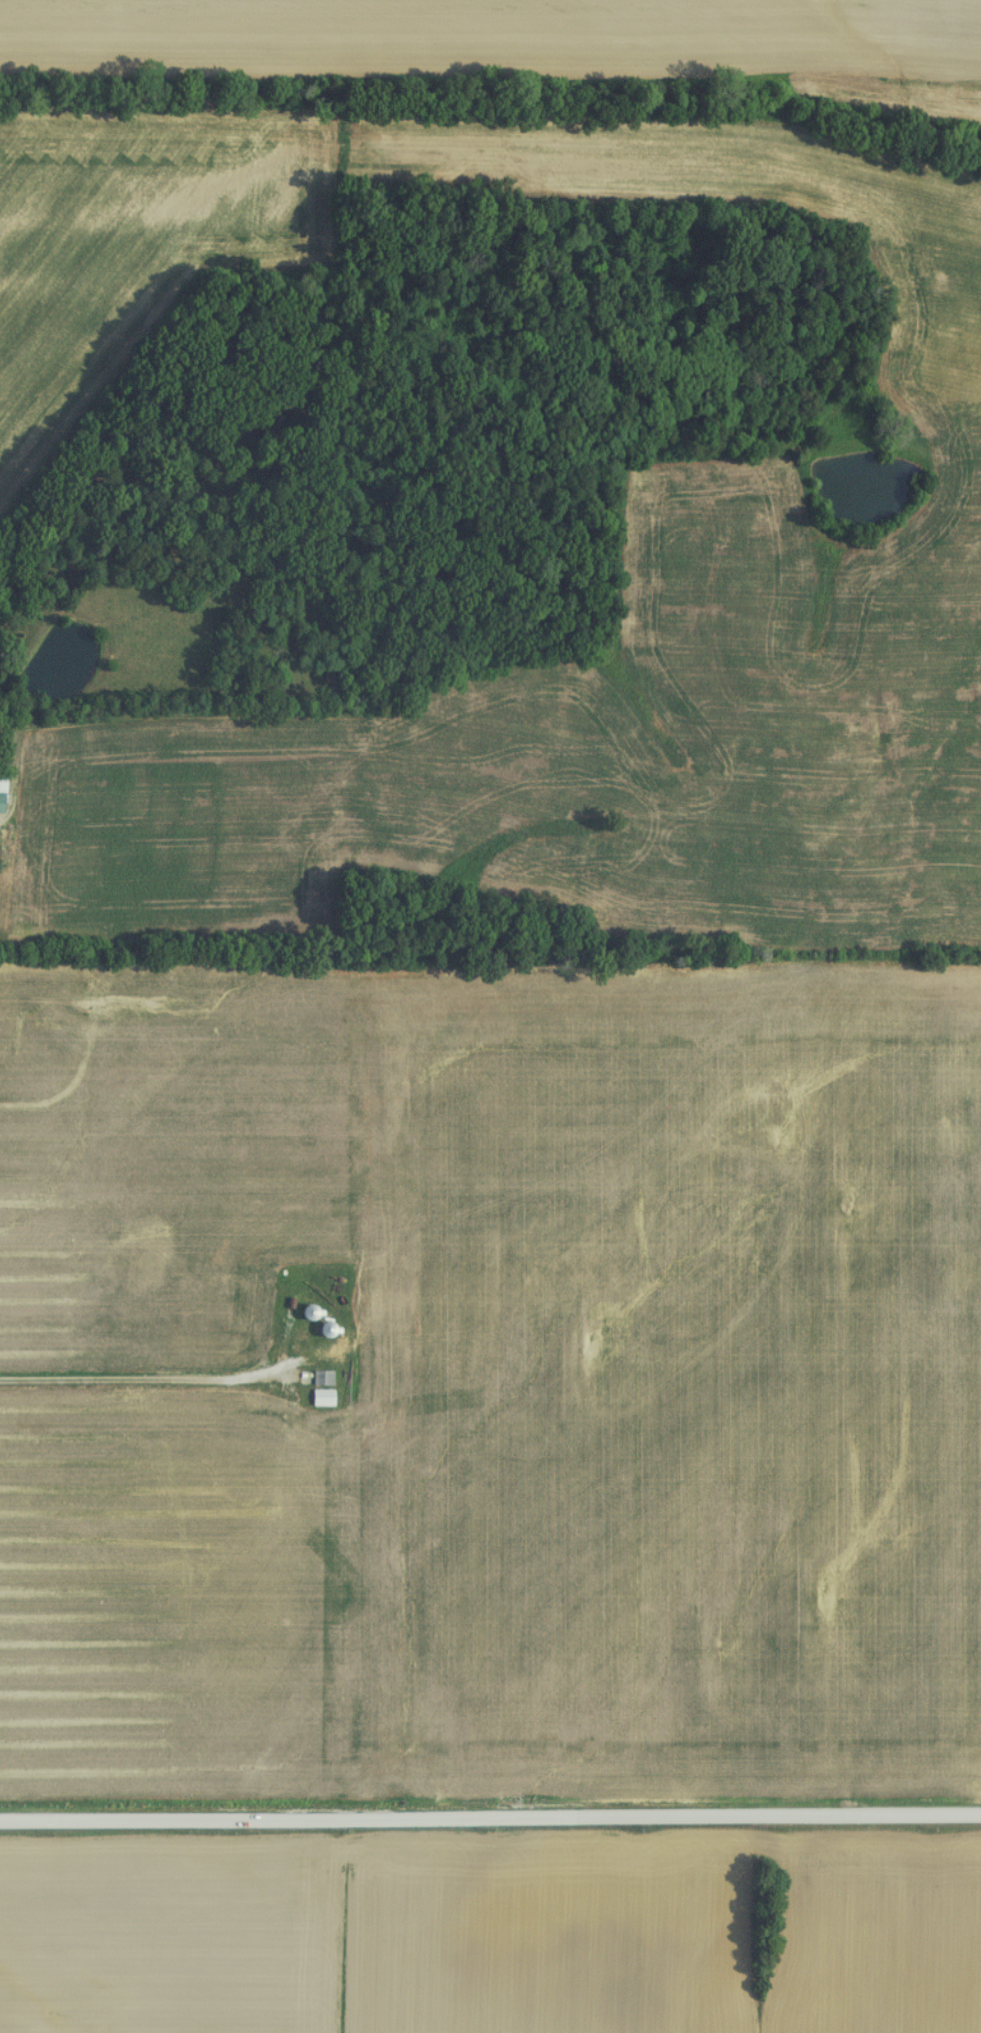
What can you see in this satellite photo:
building: (142, 1265)
building: (301, 1346)
building: (317, 1378)
road: (153, 1379)
building: (317, 1397)
road: (490, 1818)

